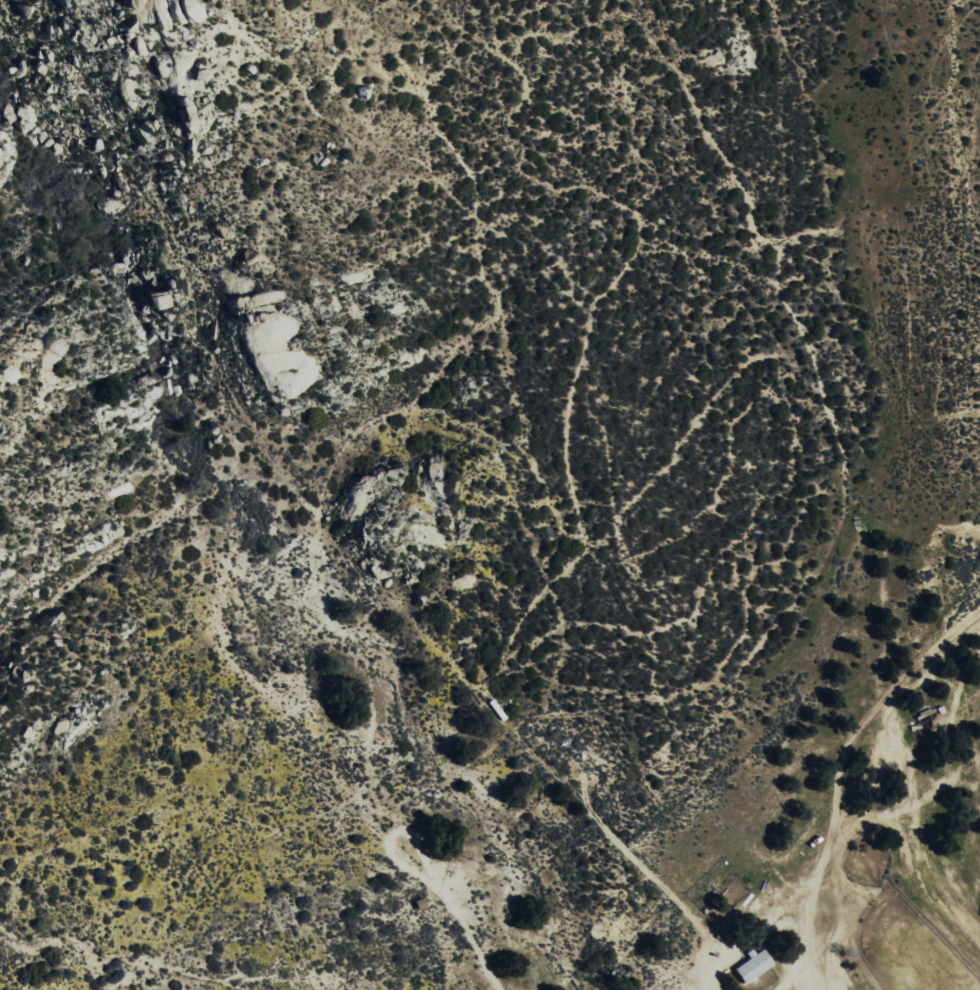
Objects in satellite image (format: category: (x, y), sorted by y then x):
building: (753, 966)

